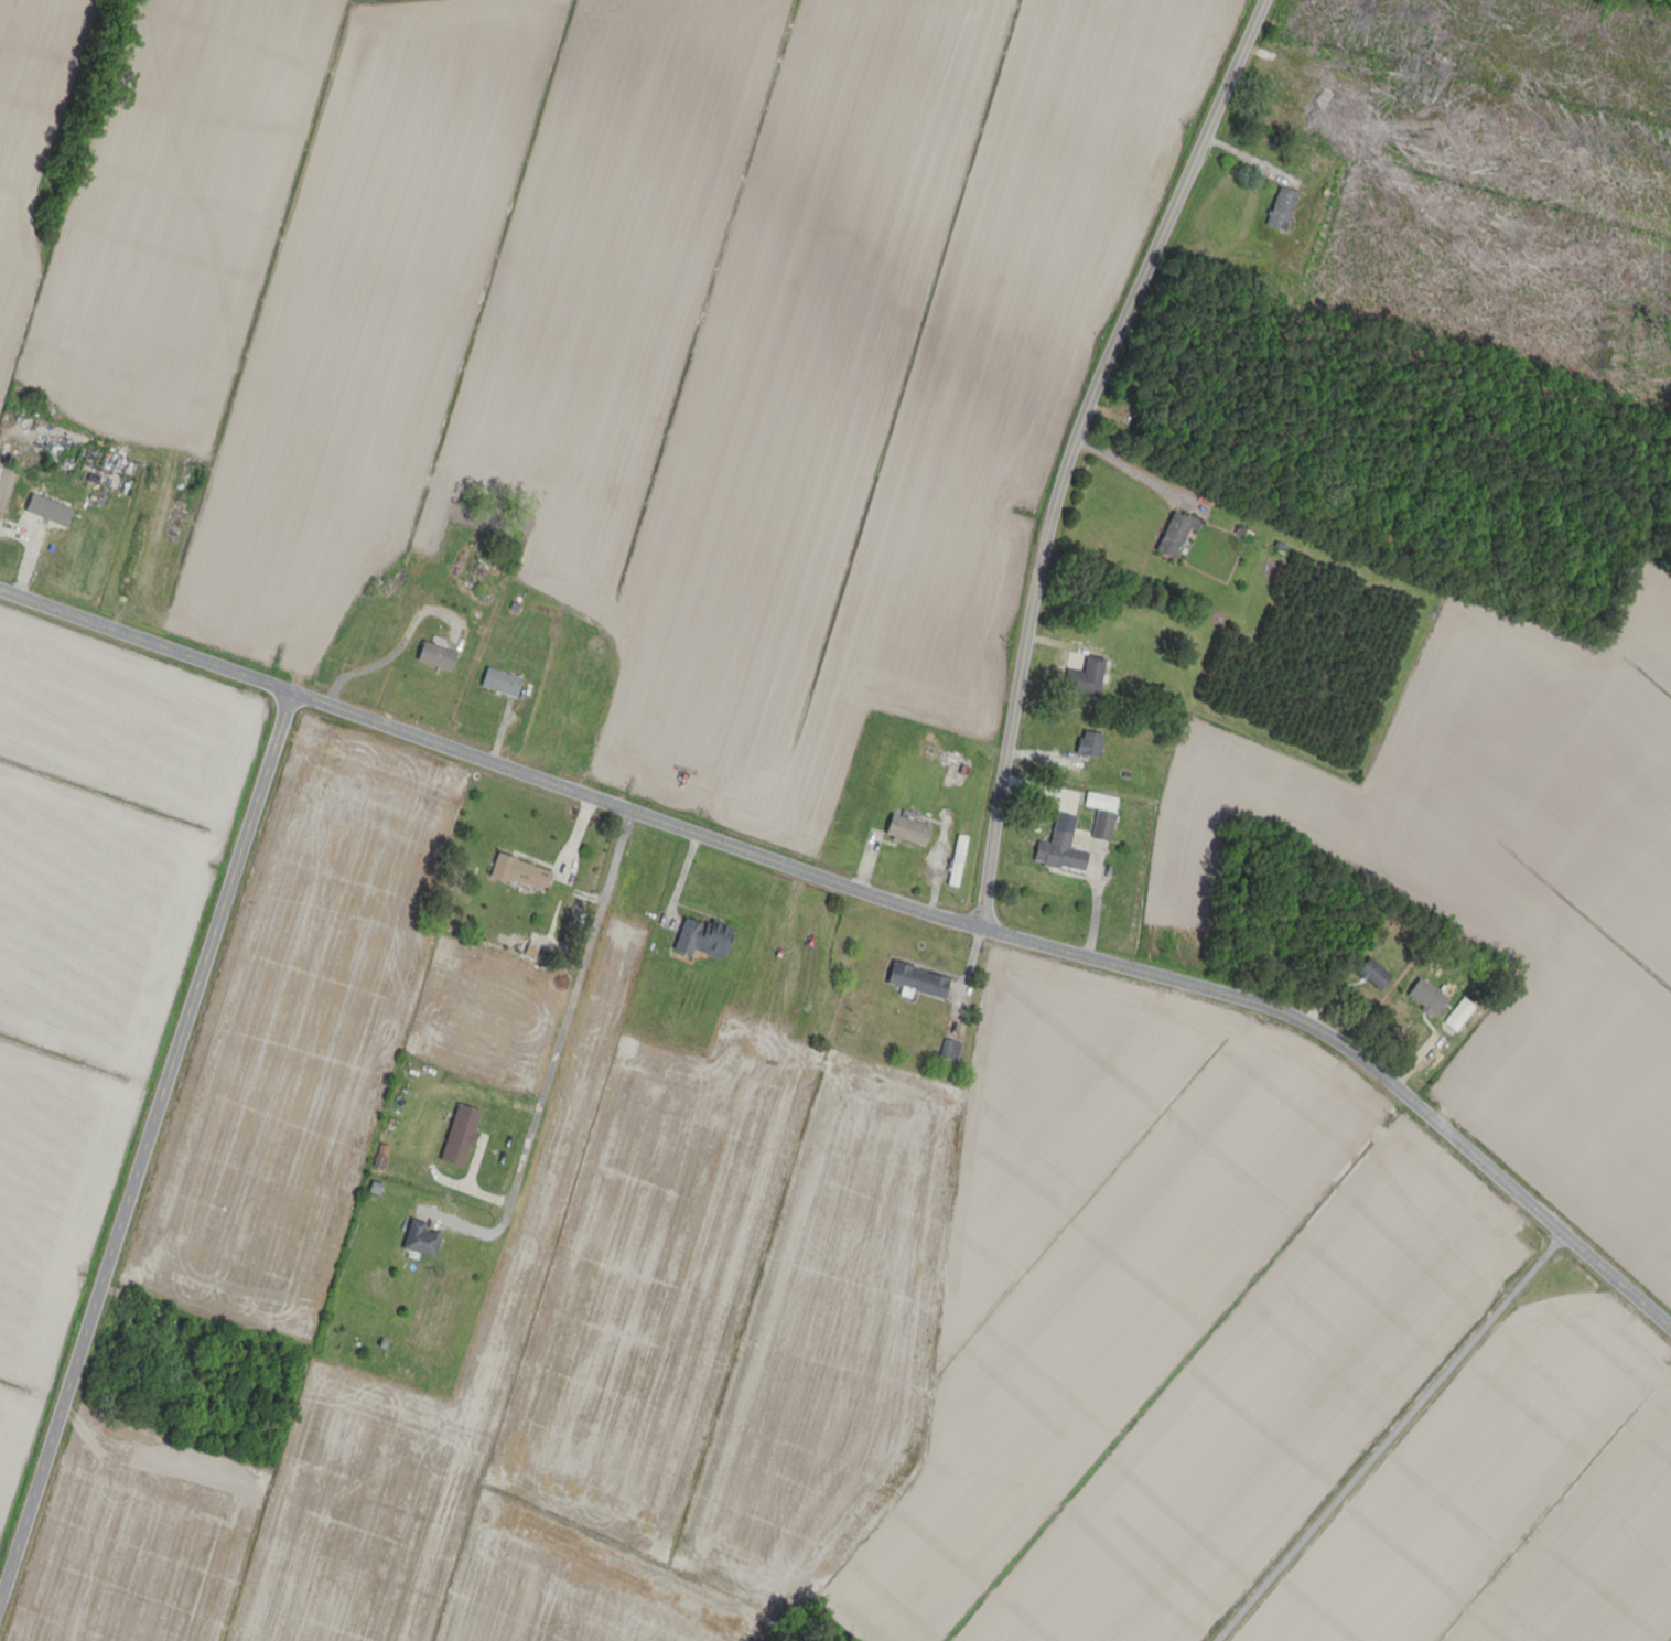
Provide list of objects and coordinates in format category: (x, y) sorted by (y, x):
building: (1281, 208)
road: (1077, 460)
road: (1133, 470)
building: (61, 515)
building: (1175, 536)
building: (441, 647)
building: (1085, 677)
building: (499, 683)
building: (1089, 744)
building: (955, 774)
building: (1102, 825)
building: (907, 830)
building: (1060, 851)
building: (956, 860)
building: (519, 872)
road: (872, 916)
building: (703, 939)
building: (1373, 974)
building: (917, 980)
building: (1426, 997)
building: (1458, 1015)
building: (949, 1050)
road: (551, 1065)
building: (459, 1136)
building: (380, 1157)
road: (147, 1165)
road: (471, 1192)
building: (420, 1238)
road: (1388, 1437)

